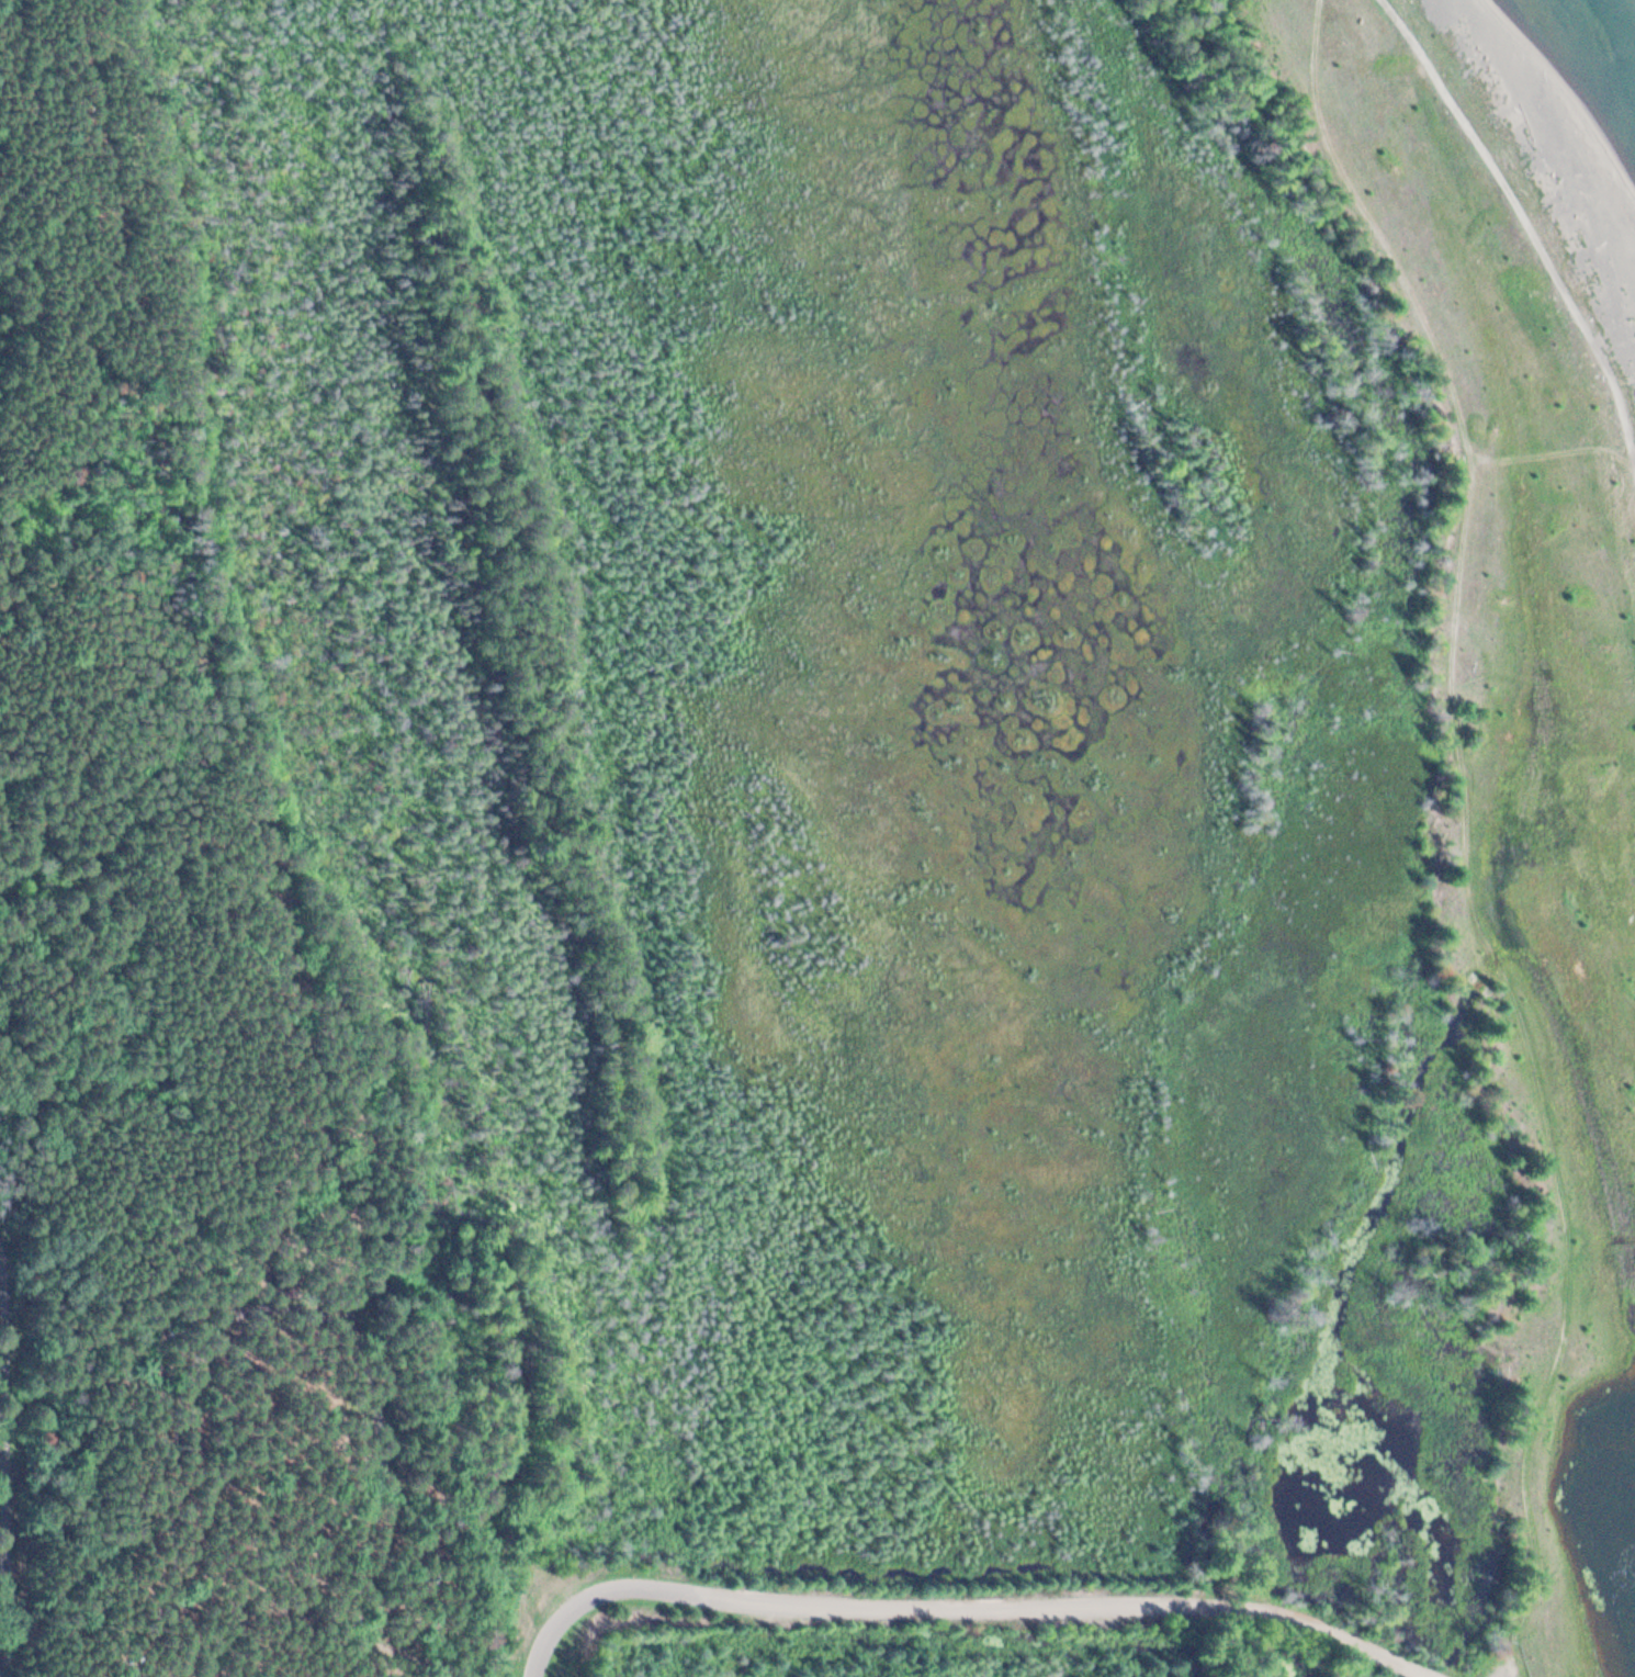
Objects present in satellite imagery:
road: (1, 1400)
park: (10, 1452)
road: (4, 1519)
road: (3, 1571)
road: (1497, 1572)
road: (963, 1600)

